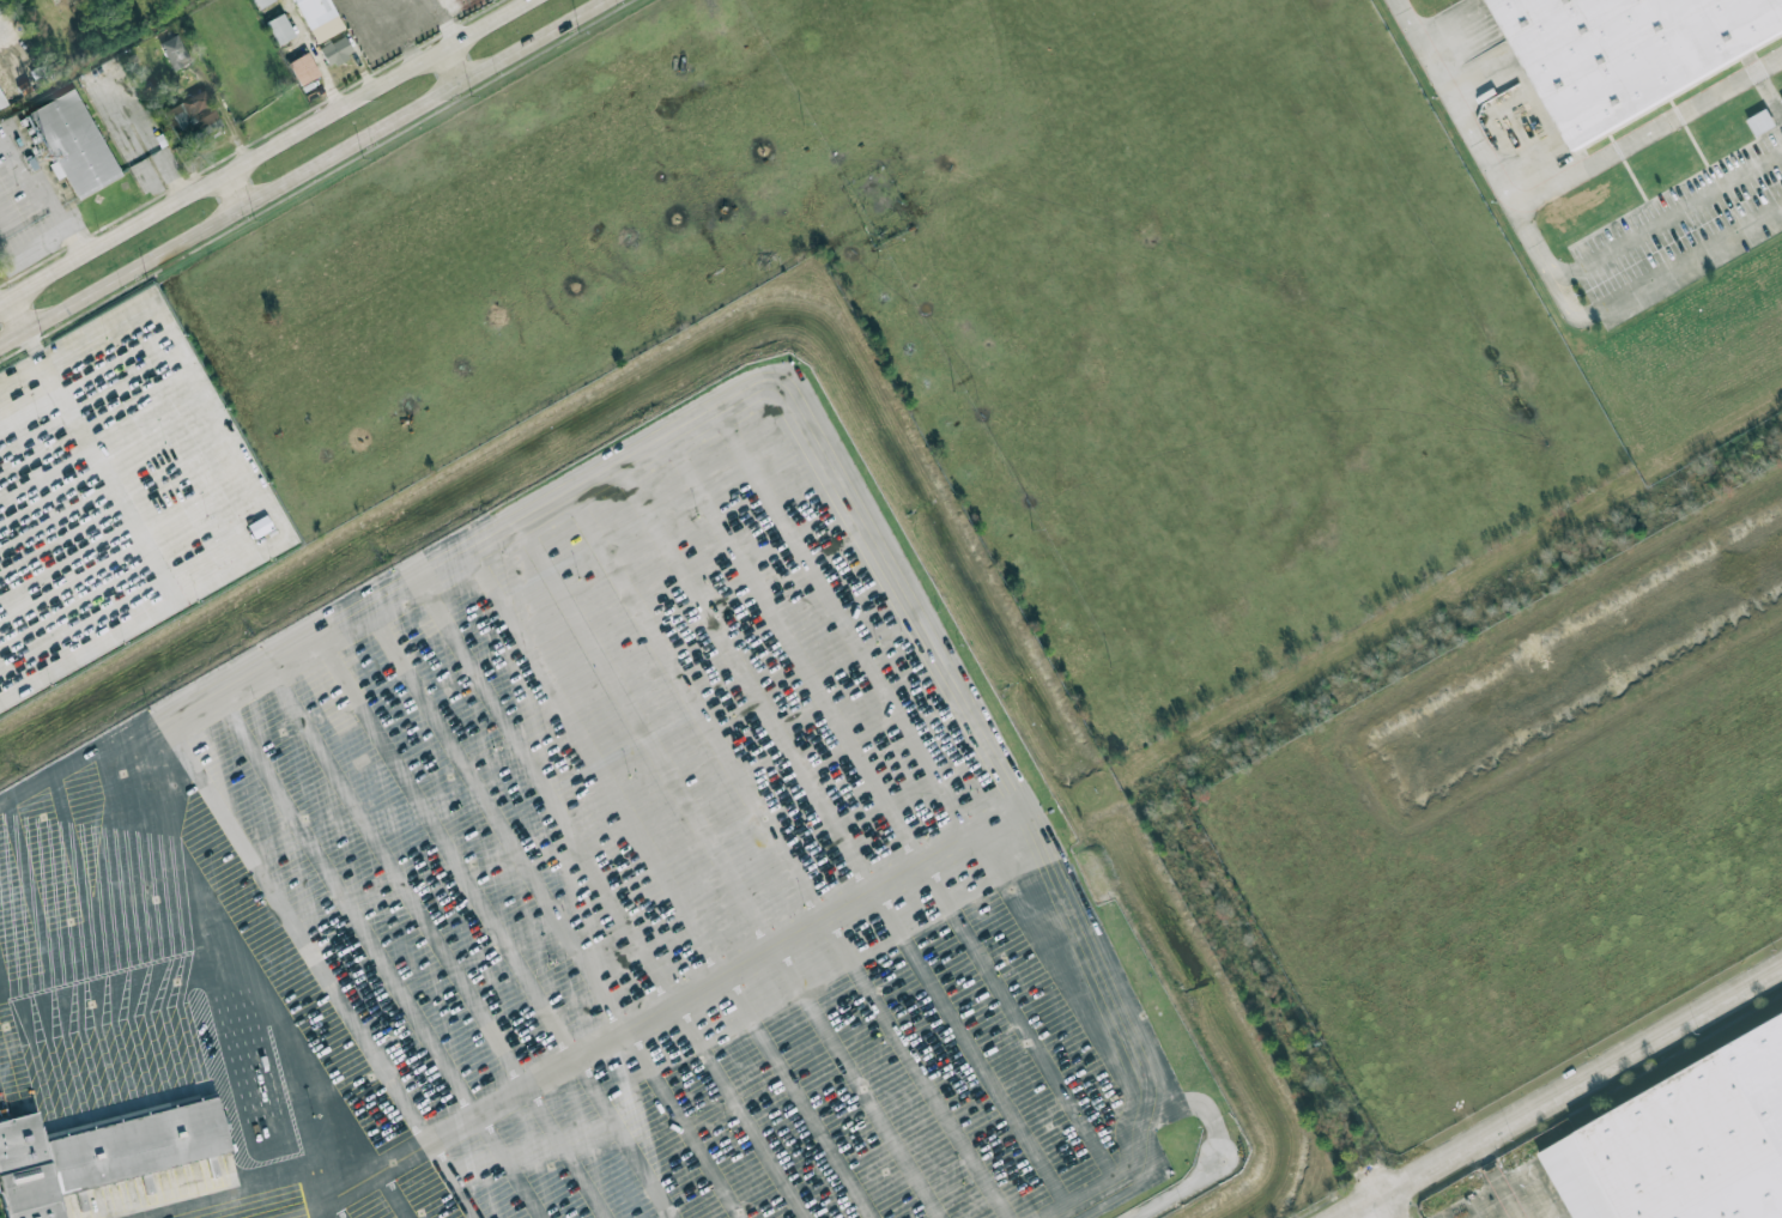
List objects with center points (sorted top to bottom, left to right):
building: (261, 2)
building: (319, 18)
building: (279, 29)
building: (335, 50)
building: (174, 51)
building: (1628, 51)
road: (451, 66)
building: (303, 68)
building: (1781, 99)
building: (1, 101)
building: (192, 116)
building: (1760, 121)
road: (1647, 132)
building: (74, 144)
road: (148, 146)
road: (263, 151)
road: (1484, 159)
road: (304, 174)
road: (234, 192)
road: (49, 199)
road: (1667, 220)
road: (1679, 265)
road: (17, 316)
road: (757, 388)
road: (109, 483)
road: (253, 490)
building: (260, 526)
road: (75, 775)
road: (216, 984)
road: (669, 1008)
road: (1563, 1093)
building: (1686, 1144)
building: (99, 1150)
road: (1497, 1182)
road: (1177, 1192)
road: (1389, 1207)

